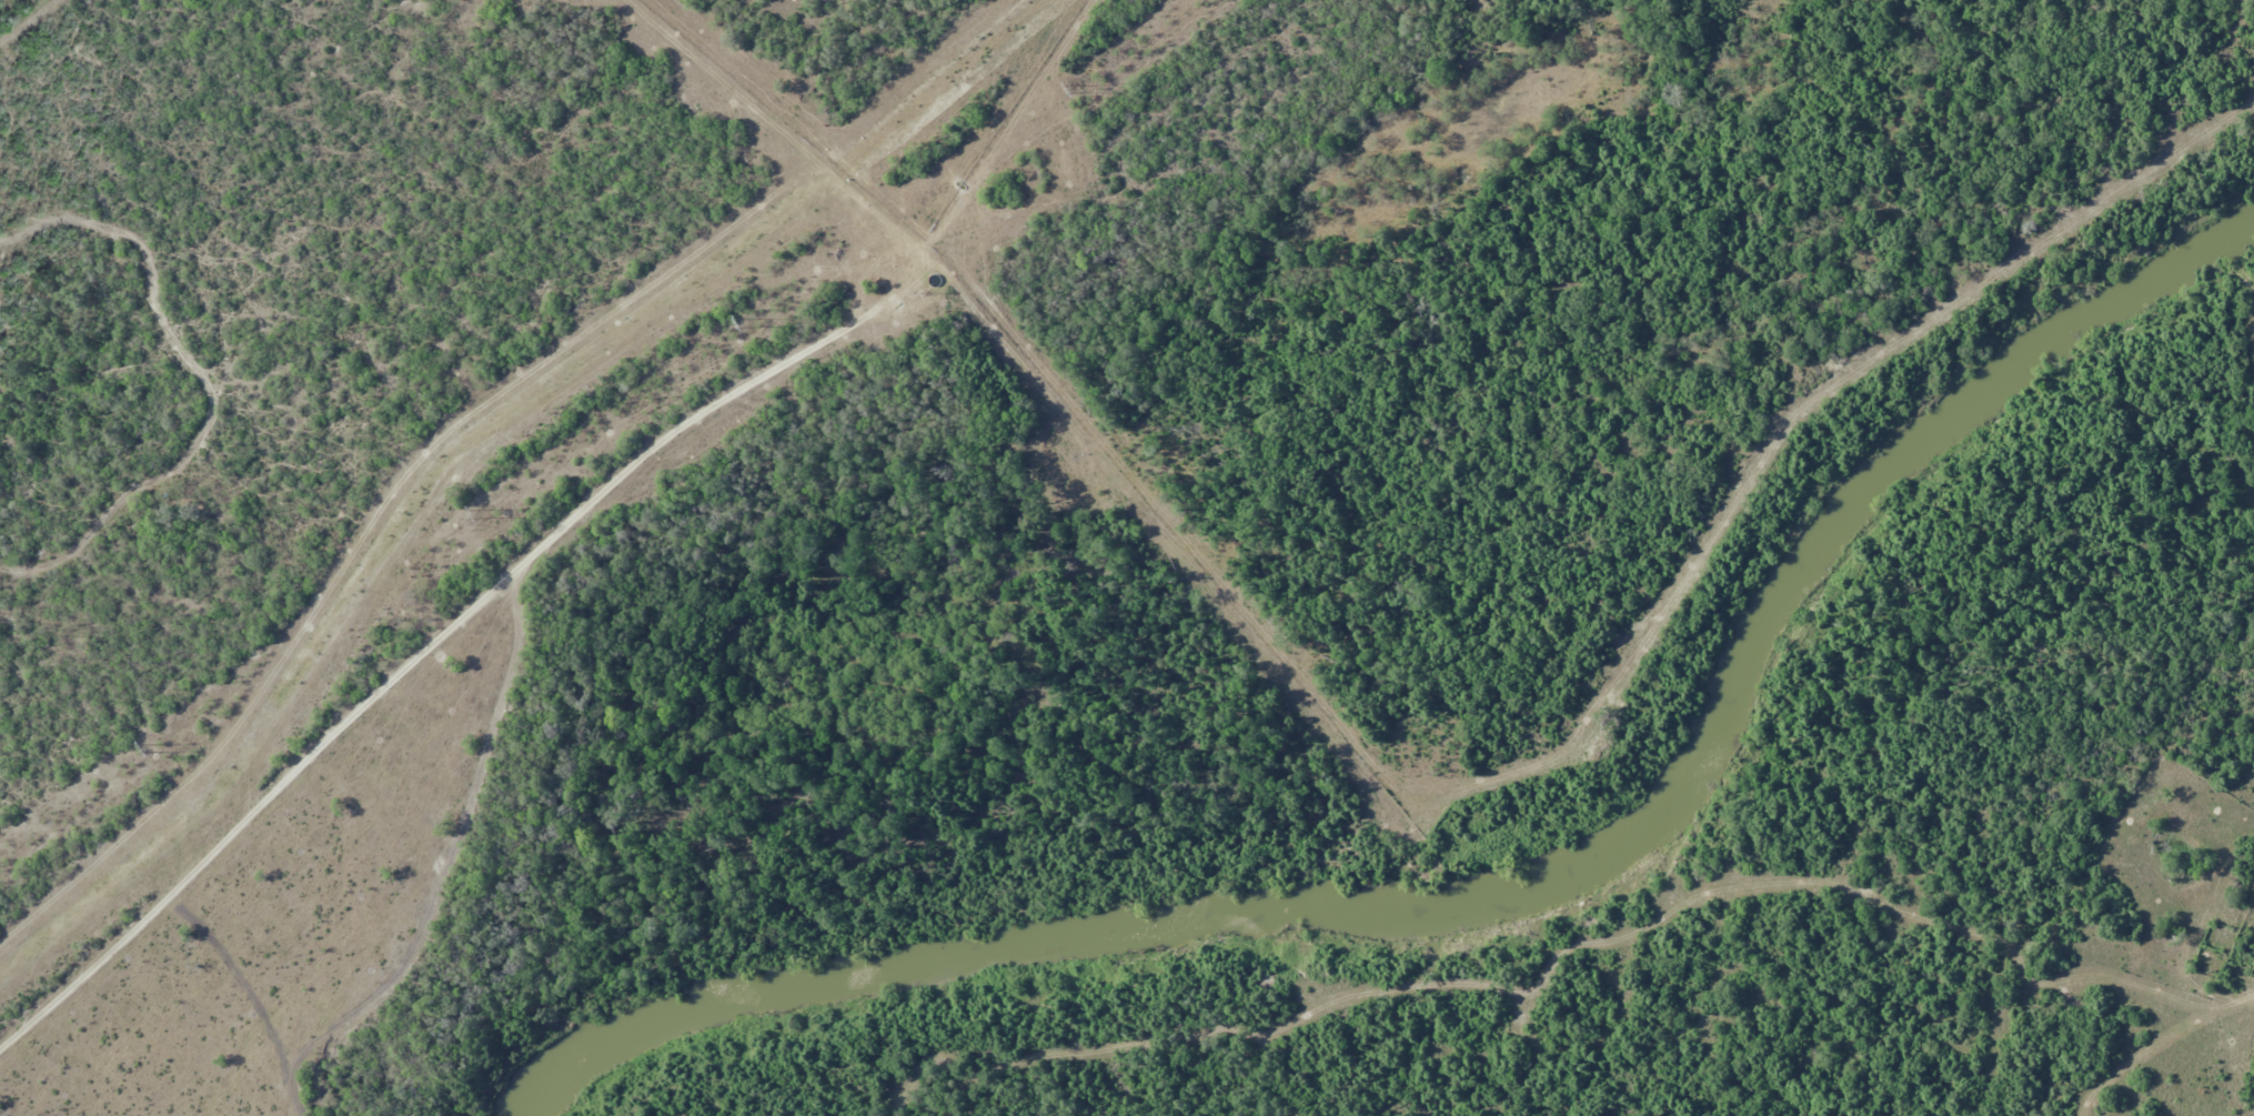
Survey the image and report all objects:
power tower: (1077, 88)
power tower: (749, 321)
power tower: (483, 513)
power tower: (157, 746)
river: (1509, 888)

